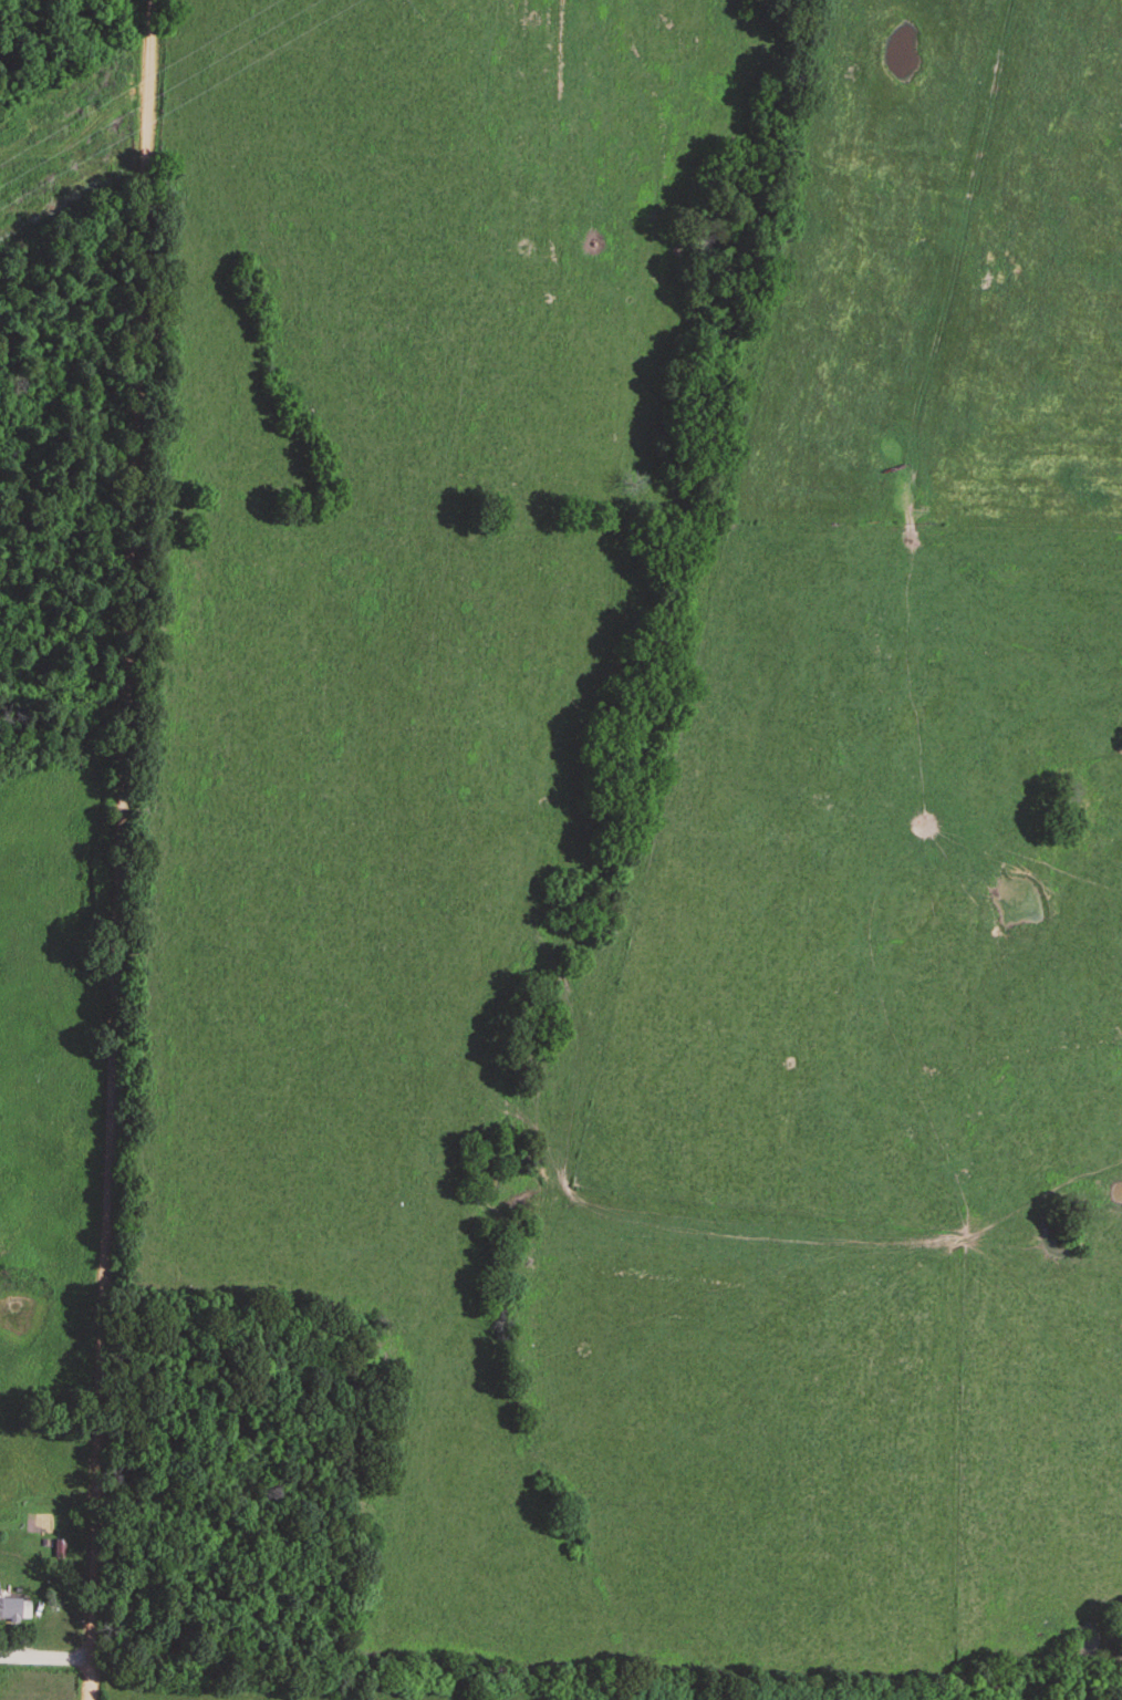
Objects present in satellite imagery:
road: (120, 849)
building: (13, 1614)
road: (46, 1657)

